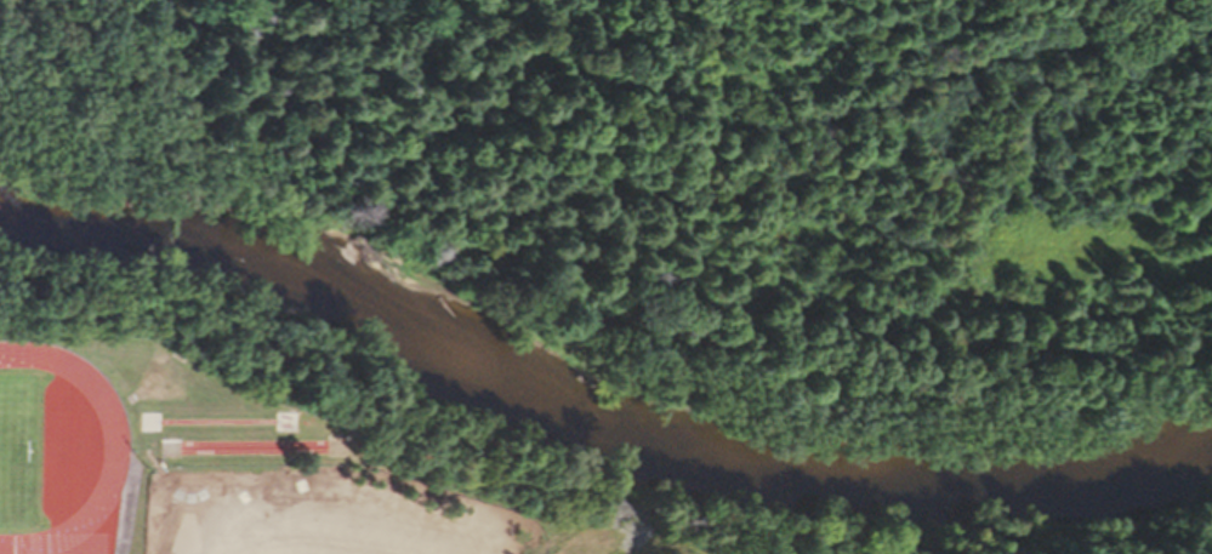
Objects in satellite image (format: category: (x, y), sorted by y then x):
park: (396, 138)
quarry: (955, 211)
river: (587, 400)
park: (8, 451)

